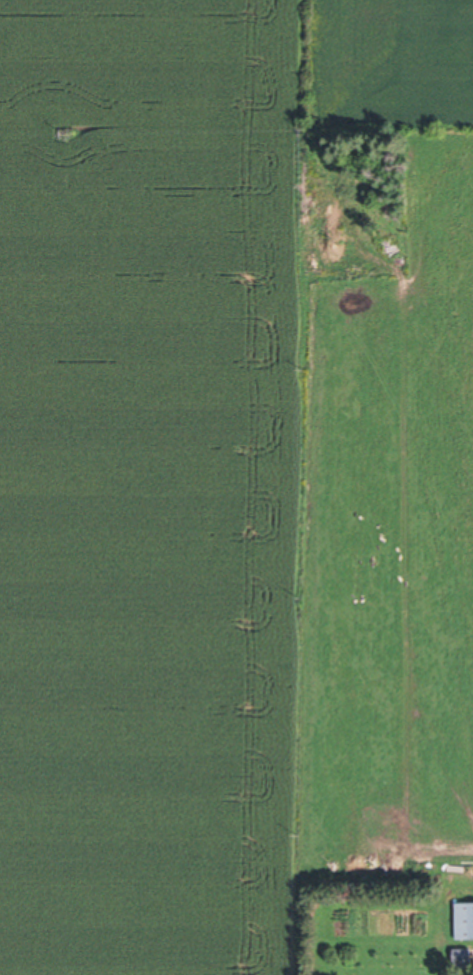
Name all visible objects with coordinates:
building: (466, 920)

